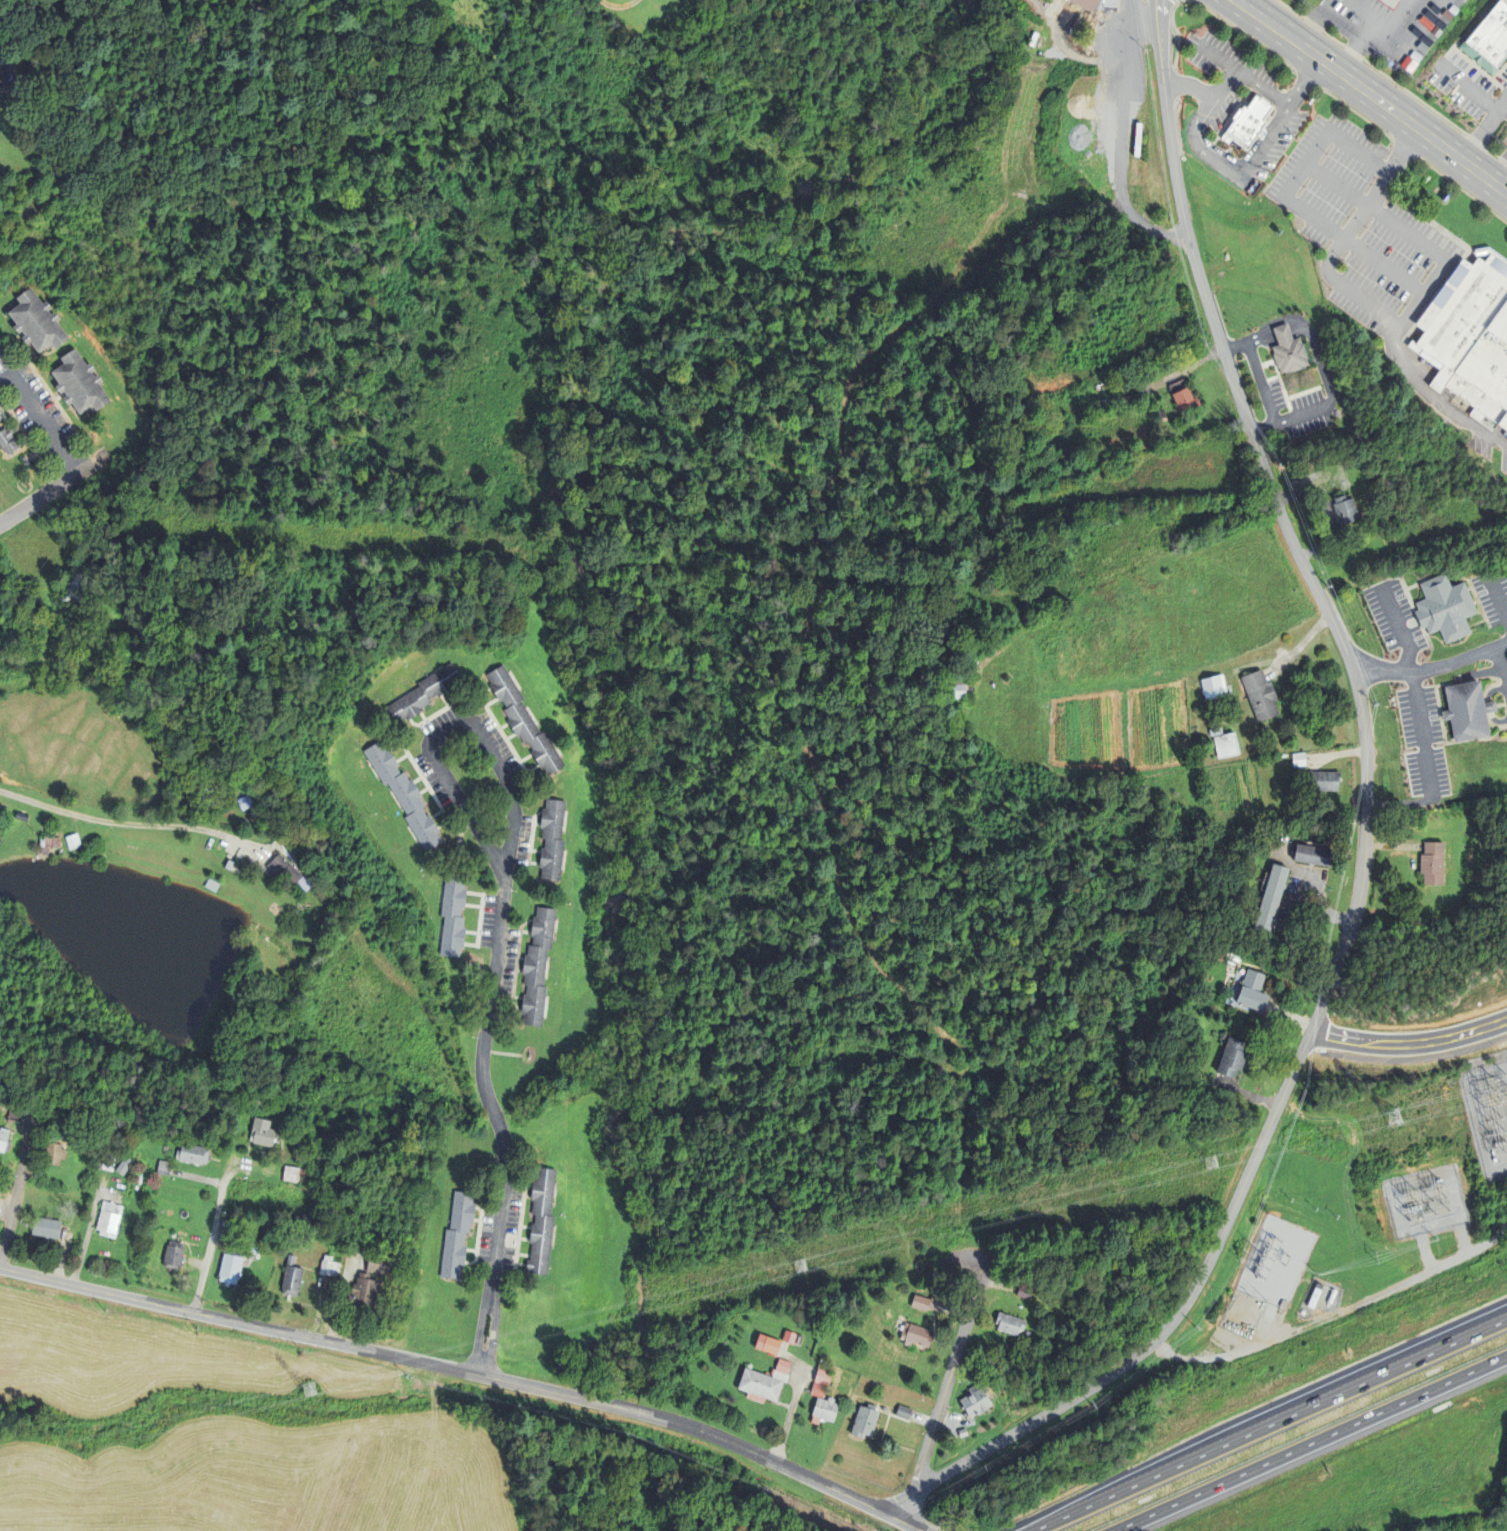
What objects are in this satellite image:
parking lot: (1144, 0)
parking lot: (743, 2)
building: (1390, 2)
building: (1099, 4)
parking lot: (1105, 4)
road: (1291, 9)
building: (505, 17)
road: (1395, 17)
road: (1142, 20)
road: (1363, 20)
parking lot: (1386, 27)
road: (1249, 37)
road: (1333, 37)
road: (1417, 37)
building: (1490, 40)
road: (1159, 41)
parking lot: (1098, 46)
road: (1354, 48)
road: (1215, 55)
parking lot: (1127, 61)
road: (1305, 83)
parking lot: (1466, 83)
road: (1470, 88)
road: (1262, 89)
road: (1372, 94)
road: (1206, 95)
road: (1419, 100)
parking lot: (1214, 111)
road: (1355, 112)
road: (1234, 113)
road: (1177, 121)
building: (1247, 122)
parking lot: (1474, 127)
parking lot: (1498, 129)
road: (1028, 132)
road: (1485, 132)
road: (1120, 141)
parking lot: (1478, 144)
parking lot: (1326, 152)
parking lot: (1326, 152)
road: (1492, 152)
parking lot: (1335, 153)
road: (1358, 153)
parking lot: (1504, 156)
parking lot: (1502, 161)
road: (1304, 164)
road: (1498, 167)
road: (1234, 168)
parking lot: (1371, 183)
parking lot: (1371, 183)
parking lot: (1371, 183)
parking lot: (1303, 186)
parking lot: (1303, 186)
road: (1459, 186)
parking lot: (1300, 190)
parking lot: (1409, 191)
parking lot: (1353, 208)
road: (1375, 212)
parking lot: (1348, 216)
parking lot: (1348, 216)
parking lot: (1365, 226)
parking lot: (1365, 226)
road: (1345, 237)
road: (1352, 246)
parking lot: (1341, 262)
parking lot: (1341, 262)
parking lot: (1376, 263)
parking lot: (1428, 271)
parking lot: (1428, 271)
road: (1438, 290)
parking lot: (1404, 304)
parking lot: (1404, 304)
building: (37, 321)
building: (1471, 335)
road: (1311, 336)
crop: (1104, 337)
building: (1289, 349)
road: (1194, 364)
road: (1271, 364)
road: (1406, 369)
road: (1255, 370)
road: (1269, 370)
parking lot: (1324, 373)
parking lot: (7, 377)
road: (1267, 379)
building: (81, 382)
road: (1294, 385)
road: (1319, 386)
road: (1278, 388)
building: (1141, 391)
parking lot: (8, 396)
building: (1185, 397)
road: (1300, 397)
road: (1289, 407)
building: (1162, 415)
road: (41, 418)
road: (1289, 419)
parking lot: (42, 420)
crop: (1095, 433)
building: (9, 440)
building: (1074, 462)
building: (1037, 472)
parking lot: (54, 478)
crop: (1144, 482)
road: (53, 489)
building: (1345, 509)
road: (1318, 514)
building: (81, 589)
road: (1472, 590)
parking lot: (1493, 595)
road: (1497, 597)
road: (1421, 599)
road: (1419, 602)
parking lot: (1410, 604)
building: (1447, 607)
road: (1481, 612)
road: (1506, 614)
parking lot: (1395, 618)
parking lot: (1412, 622)
road: (1399, 627)
parking lot: (1421, 630)
crop: (1155, 645)
road: (1499, 661)
parking lot: (1418, 662)
parking lot: (1486, 667)
road: (1430, 668)
parking lot: (1504, 673)
road: (1506, 673)
building: (158, 677)
road: (1506, 680)
parking lot: (1495, 682)
road: (1474, 685)
building: (1215, 686)
building: (959, 691)
parking lot: (1486, 692)
building: (423, 693)
building: (1261, 694)
road: (1442, 696)
parking lot: (1493, 697)
parking lot: (1488, 699)
road: (1459, 701)
building: (1470, 710)
building: (523, 720)
building: (1216, 730)
road: (1420, 732)
parking lot: (1422, 739)
building: (1226, 744)
building: (1299, 759)
building: (1405, 775)
building: (1326, 780)
building: (196, 793)
crop: (1217, 793)
building: (403, 794)
building: (191, 795)
building: (260, 800)
road: (130, 825)
building: (552, 838)
building: (51, 841)
building: (75, 841)
building: (1315, 855)
building: (1432, 862)
building: (233, 864)
building: (291, 868)
road: (1360, 877)
building: (213, 884)
building: (1272, 900)
road: (500, 909)
building: (452, 915)
building: (326, 922)
building: (537, 966)
dam: (218, 987)
building: (1254, 992)
crop: (398, 1001)
road: (1409, 1042)
crop: (366, 1045)
building: (1233, 1058)
building: (258, 1101)
power substation: (1490, 1114)
building: (15, 1116)
power tower: (1391, 1116)
building: (261, 1130)
building: (5, 1139)
building: (164, 1147)
building: (50, 1152)
building: (193, 1152)
building: (59, 1153)
building: (97, 1161)
building: (107, 1162)
building: (122, 1164)
power tower: (1208, 1165)
building: (162, 1166)
building: (293, 1172)
road: (16, 1188)
power substation: (1427, 1201)
building: (107, 1218)
building: (541, 1219)
building: (45, 1227)
building: (457, 1233)
road: (1463, 1239)
road: (209, 1240)
building: (252, 1248)
road: (1425, 1252)
building: (173, 1254)
building: (290, 1259)
building: (378, 1263)
building: (230, 1264)
building: (329, 1266)
power tower: (798, 1268)
power substation: (1268, 1274)
building: (291, 1280)
building: (363, 1291)
building: (1024, 1293)
building: (1082, 1296)
building: (1313, 1297)
power substation: (1319, 1298)
building: (920, 1302)
road: (1346, 1309)
road: (1267, 1314)
building: (1010, 1322)
road: (480, 1330)
road: (1266, 1330)
road: (493, 1332)
building: (916, 1333)
building: (1028, 1333)
building: (789, 1336)
building: (799, 1338)
building: (767, 1343)
road: (1163, 1348)
building: (782, 1365)
building: (824, 1366)
road: (464, 1370)
building: (780, 1374)
building: (822, 1376)
road: (949, 1377)
building: (759, 1384)
power tower: (307, 1387)
building: (817, 1389)
building: (976, 1400)
road: (793, 1401)
building: (883, 1408)
building: (824, 1410)
building: (902, 1411)
road: (1290, 1415)
building: (865, 1420)
building: (962, 1432)
crop: (231, 1438)
road: (1309, 1443)
road: (1053, 1522)
road: (916, 1529)

